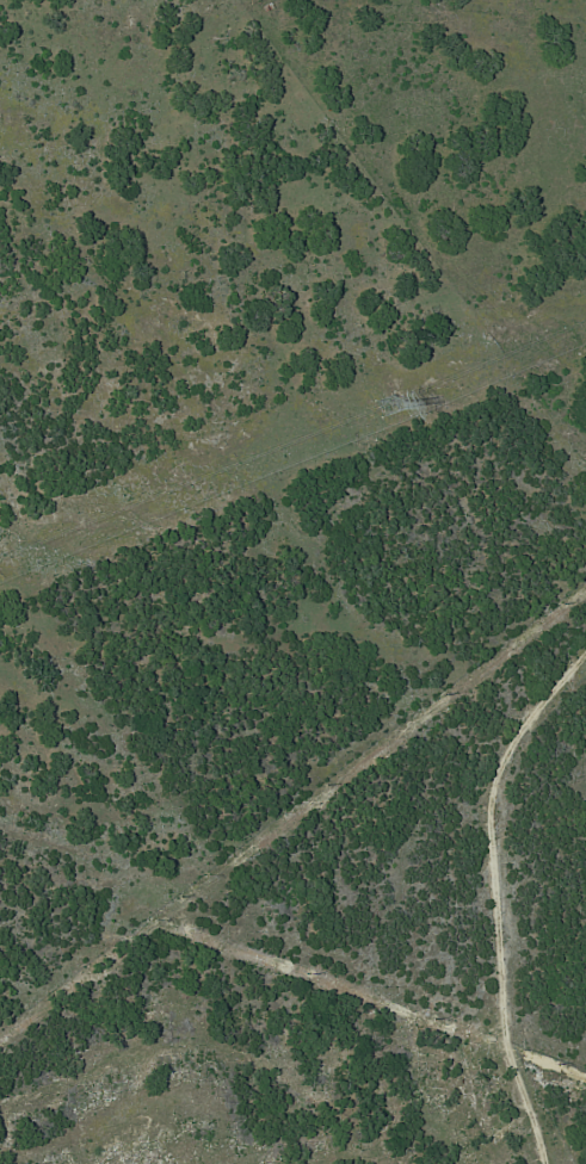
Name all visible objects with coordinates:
power tower: (388, 411)

